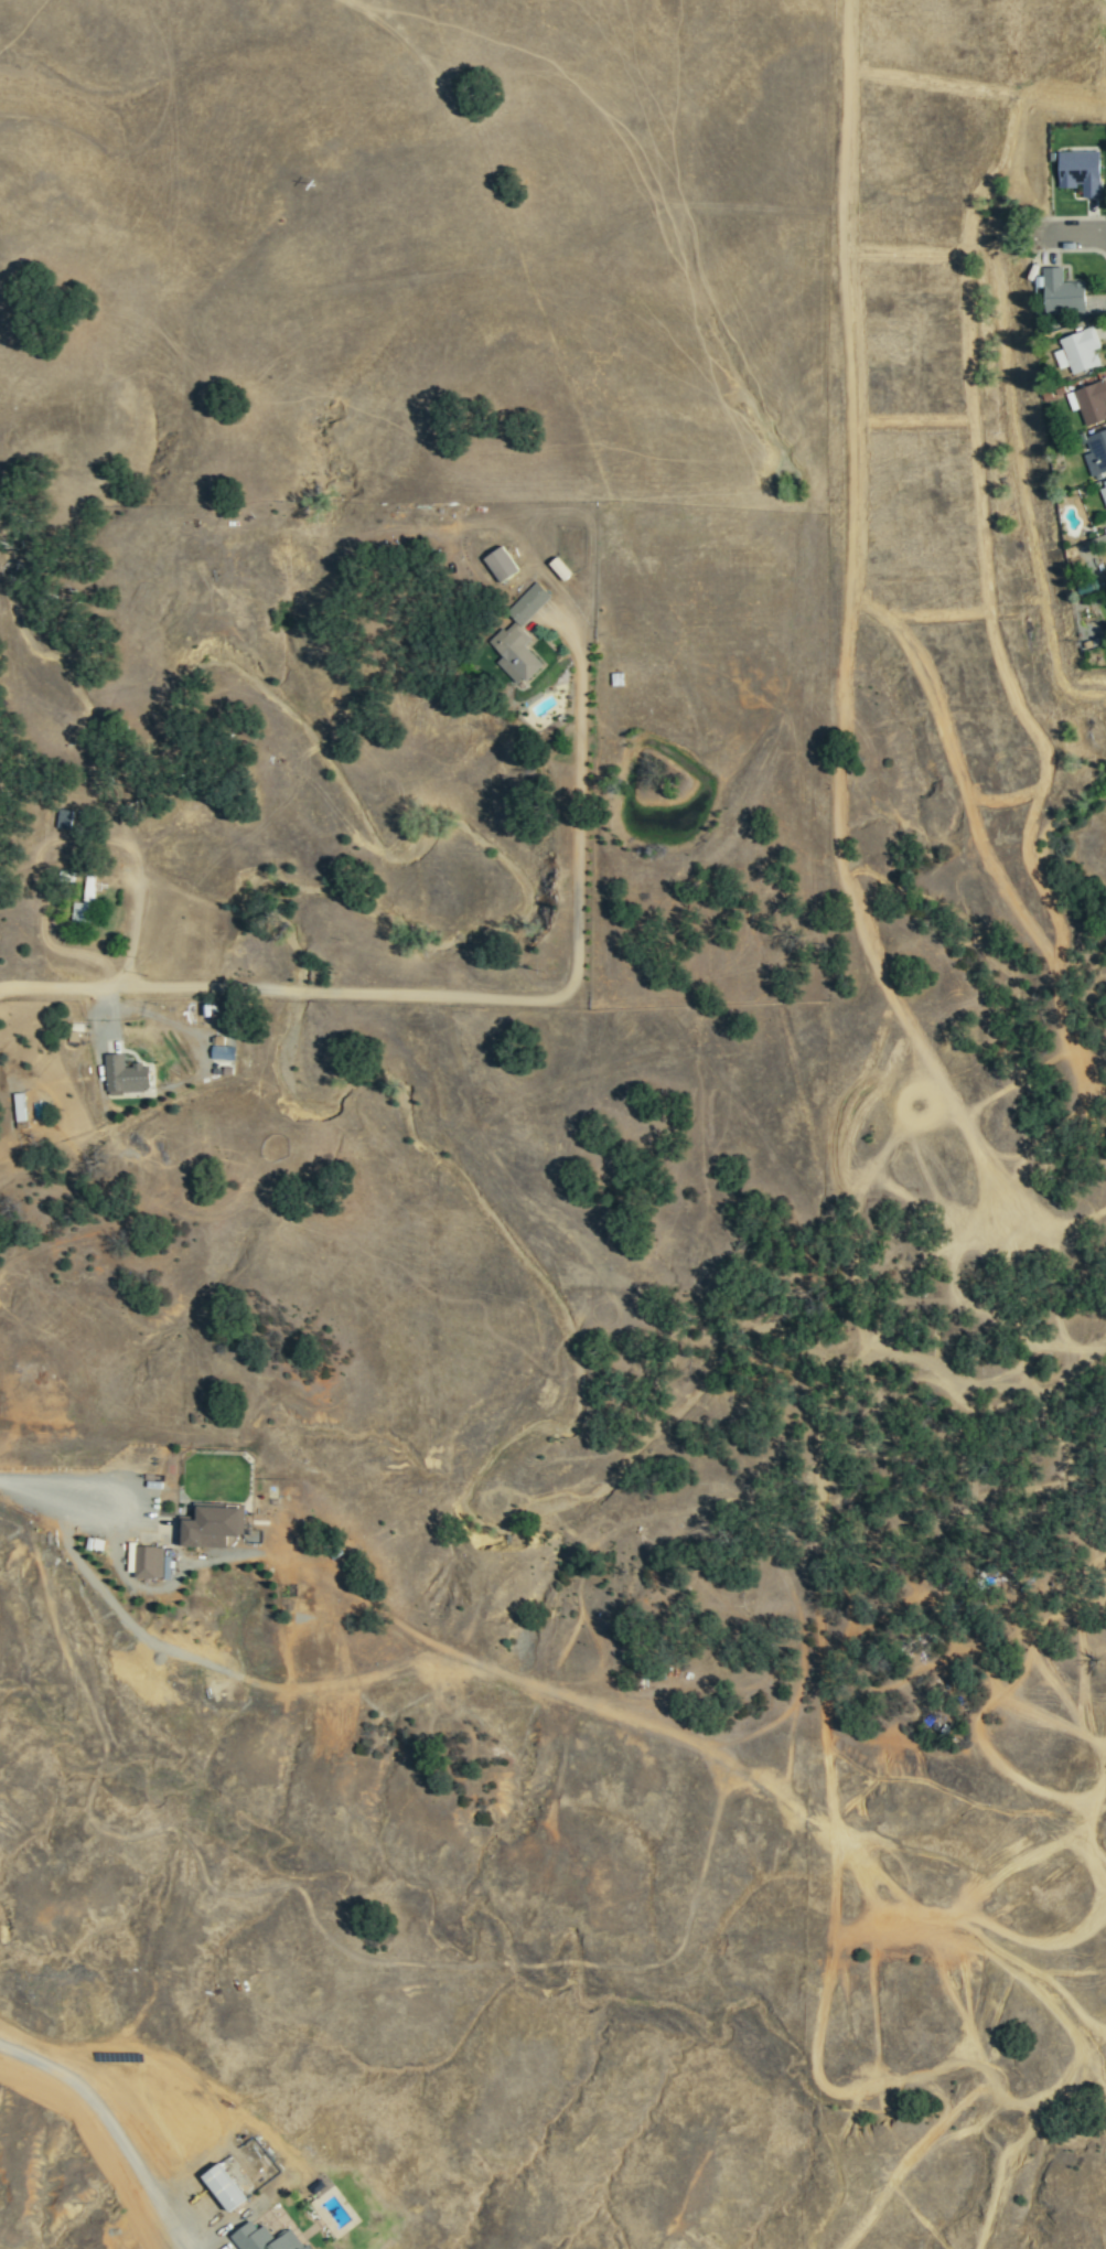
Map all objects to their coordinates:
building: (1081, 172)
road: (1075, 237)
building: (1063, 292)
building: (1078, 351)
building: (1089, 401)
building: (1096, 452)
building: (1103, 492)
building: (500, 564)
building: (519, 635)
building: (65, 818)
building: (84, 902)
road: (473, 998)
building: (223, 1052)
building: (125, 1075)
building: (19, 1106)
road: (65, 1481)
building: (210, 1527)
building: (152, 1563)
road: (110, 2127)
building: (224, 2187)
building: (268, 2238)

